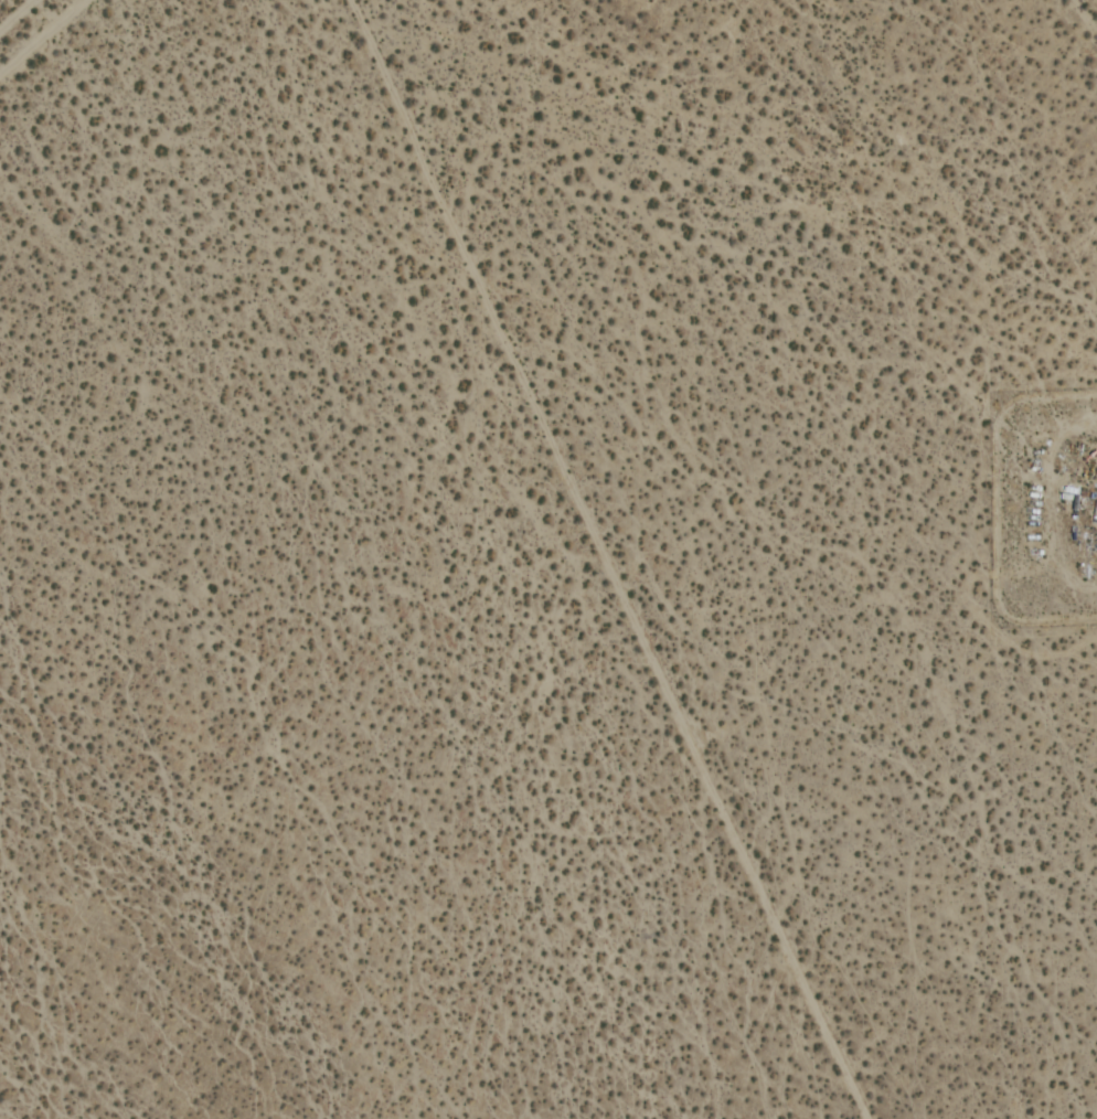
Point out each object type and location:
road: (17, 14)
road: (42, 38)

